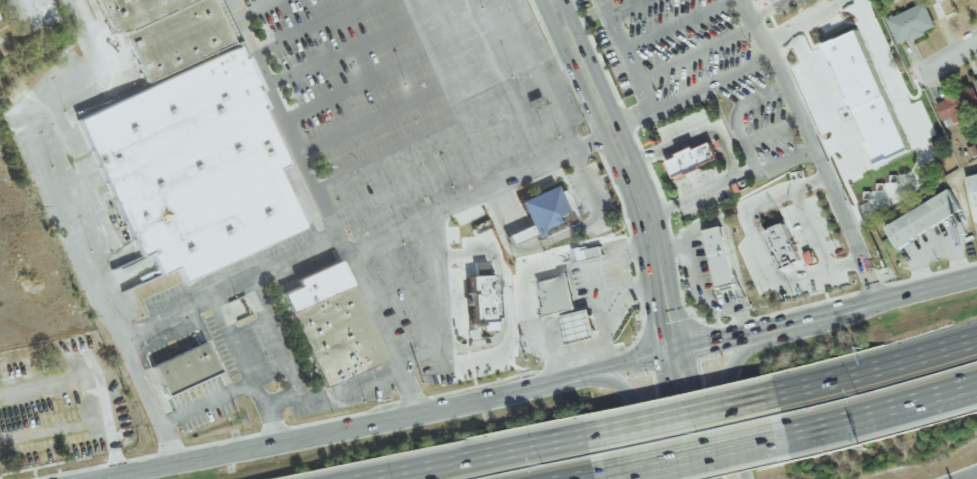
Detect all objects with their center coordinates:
building: (808, 0)
road: (555, 3)
road: (252, 10)
building: (46, 11)
road: (629, 11)
building: (131, 12)
road: (772, 12)
building: (0, 19)
building: (912, 22)
road: (802, 25)
road: (680, 27)
road: (309, 28)
building: (175, 42)
parking lot: (679, 42)
road: (360, 44)
parking lot: (605, 56)
road: (621, 57)
road: (948, 57)
road: (692, 58)
road: (890, 59)
road: (392, 73)
building: (976, 81)
road: (709, 88)
building: (957, 104)
road: (407, 107)
road: (551, 117)
road: (731, 120)
parking lot: (760, 120)
road: (770, 136)
road: (424, 144)
road: (811, 150)
road: (724, 151)
road: (663, 152)
building: (691, 165)
road: (784, 167)
building: (189, 170)
road: (745, 177)
road: (440, 181)
road: (496, 187)
building: (973, 189)
road: (786, 193)
parking lot: (352, 199)
road: (691, 202)
building: (559, 206)
road: (314, 211)
building: (539, 215)
building: (923, 218)
road: (58, 226)
road: (506, 226)
road: (646, 231)
road: (807, 232)
road: (564, 236)
building: (514, 239)
road: (683, 239)
road: (931, 244)
road: (762, 249)
building: (779, 250)
road: (666, 251)
road: (754, 253)
road: (632, 256)
building: (582, 257)
building: (715, 262)
road: (822, 272)
road: (520, 276)
road: (623, 290)
road: (221, 294)
building: (550, 299)
building: (475, 302)
road: (594, 306)
building: (325, 328)
road: (609, 328)
road: (494, 332)
building: (574, 332)
gas station: (574, 332)
road: (267, 343)
traffic signals: (666, 356)
road: (598, 362)
road: (407, 363)
road: (879, 366)
road: (475, 369)
building: (180, 371)
road: (238, 374)
road: (552, 374)
road: (548, 387)
road: (724, 388)
road: (632, 397)
road: (199, 408)
road: (887, 410)
road: (687, 415)
road: (482, 457)
road: (700, 458)
road: (975, 478)

